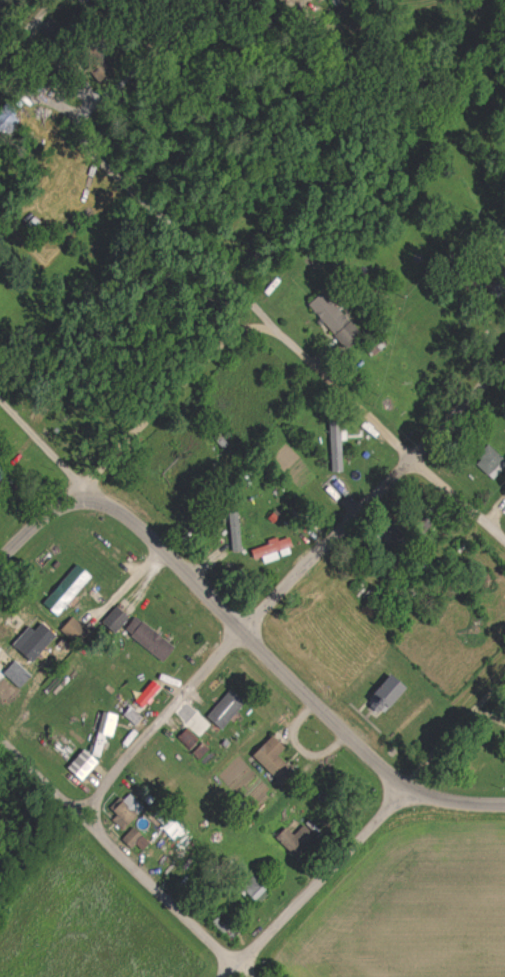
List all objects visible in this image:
road: (41, 42)
building: (6, 119)
building: (337, 321)
road: (299, 351)
road: (164, 395)
road: (457, 412)
road: (42, 442)
building: (338, 446)
building: (490, 462)
building: (335, 490)
road: (39, 519)
building: (236, 533)
building: (274, 551)
building: (67, 591)
building: (116, 621)
building: (74, 631)
road: (240, 631)
road: (245, 633)
building: (149, 640)
building: (37, 644)
building: (18, 675)
building: (388, 695)
building: (146, 699)
building: (227, 710)
building: (134, 718)
road: (453, 733)
building: (102, 736)
building: (189, 740)
building: (281, 762)
building: (83, 767)
road: (452, 801)
building: (127, 814)
building: (174, 830)
building: (136, 841)
building: (301, 841)
road: (124, 856)
road: (314, 885)
building: (255, 890)

